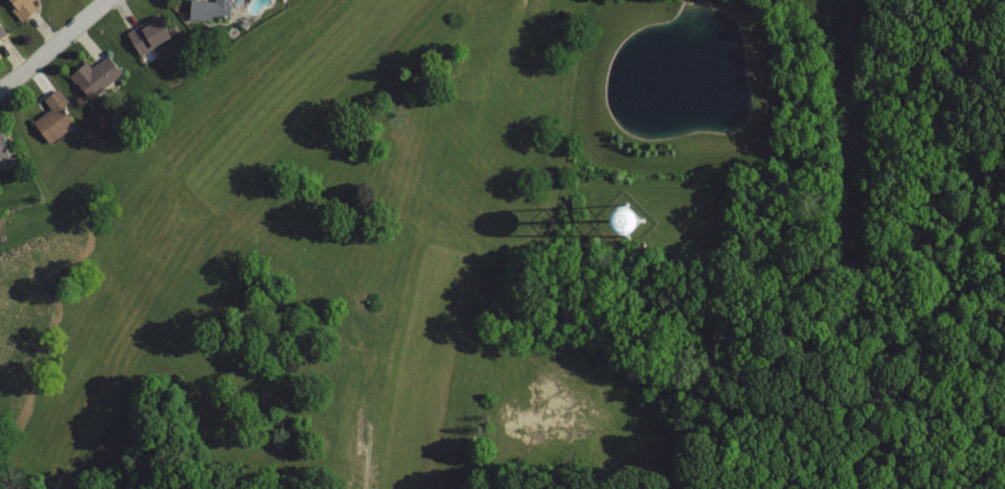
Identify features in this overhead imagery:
building: (20, 8)
building: (208, 9)
building: (1, 33)
building: (147, 34)
road: (54, 46)
building: (94, 76)
building: (52, 117)
road: (855, 119)
building: (2, 145)
water tower: (625, 217)
park: (288, 270)

